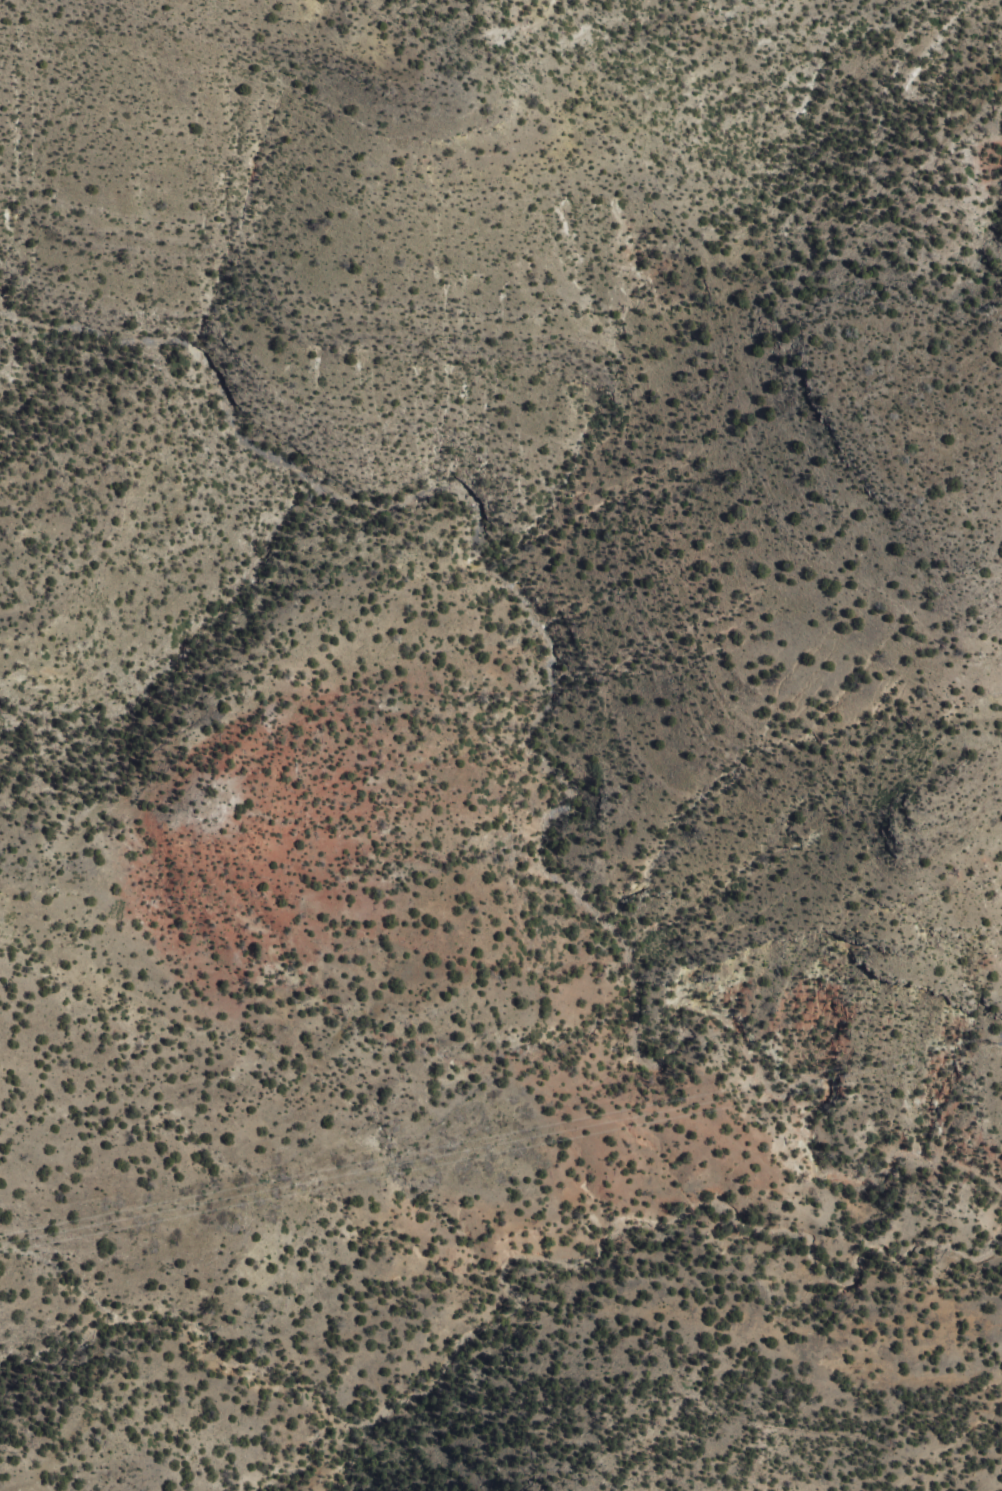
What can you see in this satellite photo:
power tower: (980, 1042)

